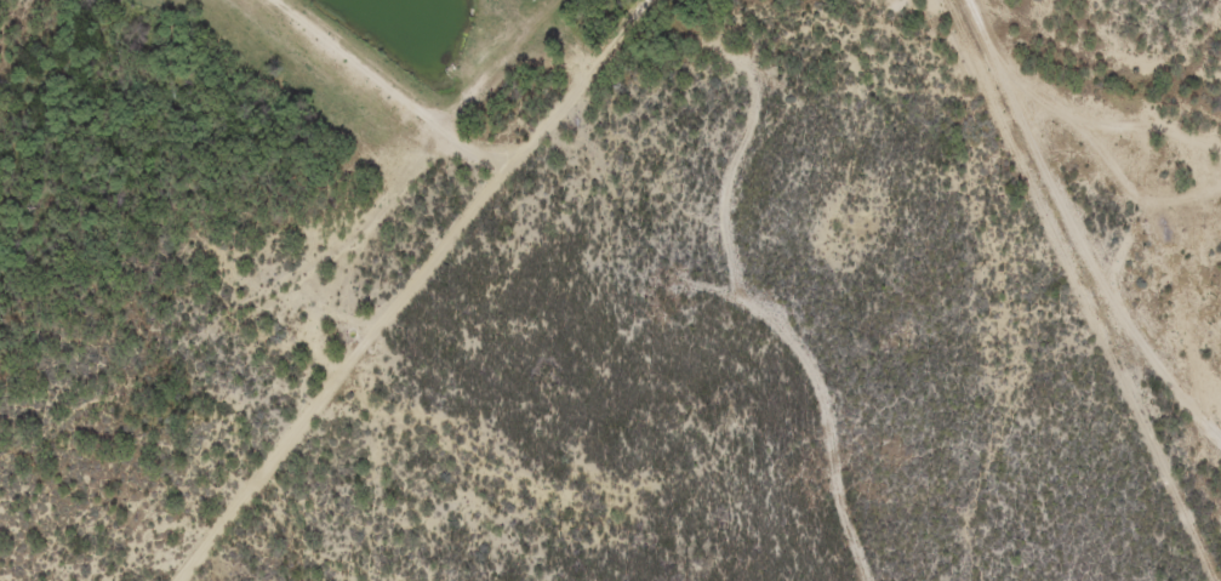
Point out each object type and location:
road: (764, 91)
road: (1077, 244)

